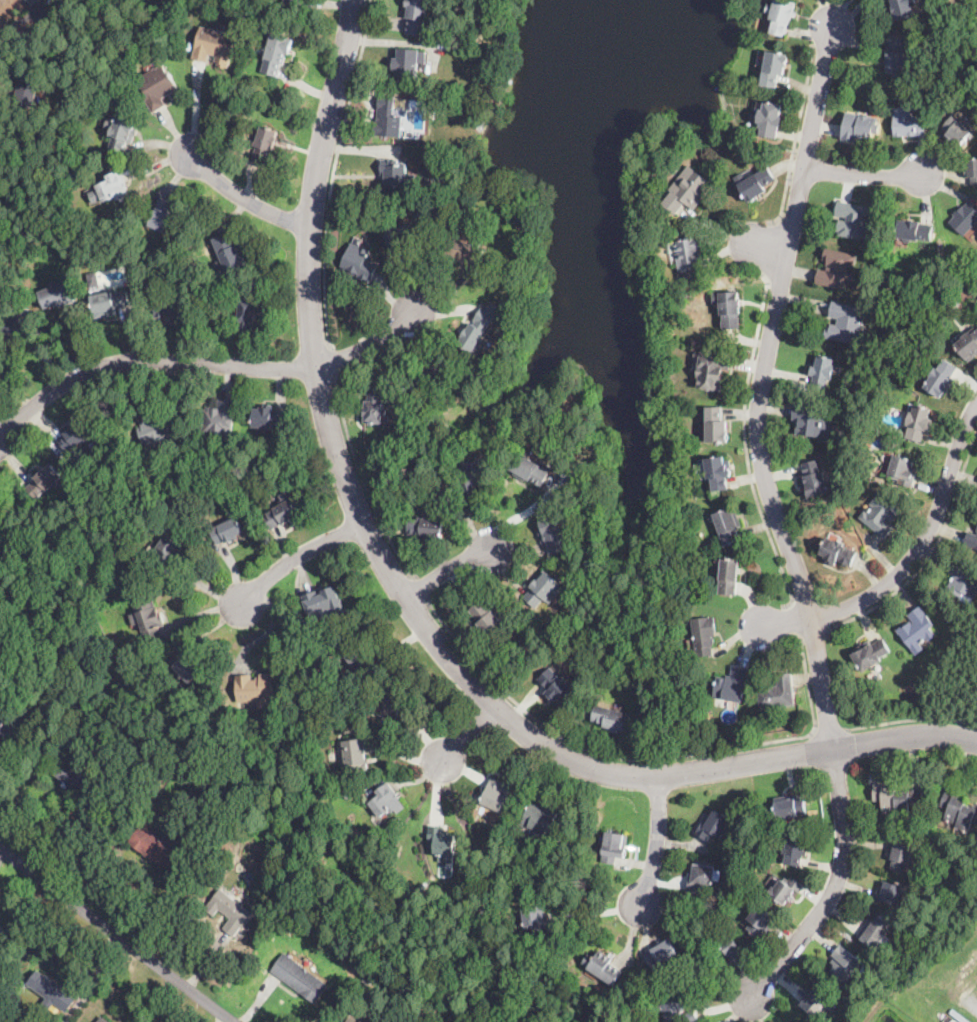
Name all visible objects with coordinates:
building: (34, 2)
building: (293, 4)
building: (903, 8)
building: (782, 14)
building: (417, 16)
building: (215, 46)
building: (277, 54)
building: (896, 55)
building: (410, 64)
building: (774, 68)
building: (158, 87)
building: (27, 89)
building: (390, 119)
building: (771, 119)
building: (907, 123)
building: (860, 127)
road: (796, 131)
building: (957, 131)
building: (122, 132)
building: (264, 145)
building: (6, 168)
road: (333, 170)
building: (972, 171)
road: (865, 173)
building: (398, 174)
building: (755, 184)
building: (115, 188)
building: (689, 190)
building: (94, 196)
road: (246, 198)
building: (165, 217)
building: (965, 218)
building: (853, 220)
building: (914, 231)
building: (403, 238)
road: (771, 245)
road: (767, 246)
building: (466, 251)
building: (229, 254)
building: (688, 257)
building: (360, 263)
building: (837, 269)
building: (94, 279)
building: (57, 295)
building: (171, 300)
building: (958, 300)
building: (110, 301)
building: (729, 308)
building: (247, 317)
building: (846, 323)
building: (16, 327)
building: (478, 329)
building: (968, 345)
road: (332, 358)
road: (202, 360)
building: (713, 370)
building: (823, 373)
building: (432, 374)
building: (942, 378)
road: (762, 389)
building: (375, 406)
building: (270, 418)
building: (220, 420)
building: (812, 421)
building: (919, 423)
building: (716, 425)
building: (153, 426)
building: (76, 435)
building: (566, 438)
road: (744, 438)
building: (530, 470)
building: (903, 471)
building: (719, 472)
building: (474, 475)
road: (363, 477)
building: (814, 479)
building: (44, 481)
building: (283, 514)
building: (881, 515)
building: (729, 525)
building: (426, 527)
building: (228, 531)
building: (553, 535)
road: (926, 535)
building: (971, 540)
road: (930, 551)
building: (838, 552)
building: (169, 553)
road: (297, 557)
road: (448, 568)
building: (729, 576)
building: (963, 580)
road: (421, 588)
building: (544, 590)
building: (325, 606)
road: (413, 608)
road: (792, 618)
building: (150, 619)
building: (486, 619)
road: (786, 620)
building: (917, 630)
road: (812, 632)
building: (705, 635)
building: (76, 644)
building: (528, 644)
building: (871, 654)
building: (362, 659)
building: (187, 668)
building: (732, 685)
building: (556, 686)
building: (256, 690)
building: (778, 693)
building: (392, 700)
building: (356, 702)
building: (704, 708)
road: (911, 717)
building: (614, 719)
road: (829, 726)
building: (9, 733)
road: (467, 734)
building: (356, 755)
road: (640, 757)
building: (105, 774)
building: (112, 779)
building: (78, 781)
building: (151, 789)
building: (348, 792)
building: (498, 796)
building: (895, 799)
building: (387, 801)
building: (790, 806)
building: (92, 811)
building: (958, 811)
building: (540, 817)
building: (714, 825)
road: (655, 840)
building: (443, 843)
building: (614, 848)
building: (155, 849)
building: (795, 849)
building: (557, 856)
building: (902, 856)
building: (753, 863)
building: (935, 875)
building: (703, 878)
building: (422, 884)
road: (834, 886)
building: (786, 890)
building: (890, 893)
building: (935, 899)
building: (230, 911)
building: (536, 920)
building: (761, 921)
building: (875, 931)
road: (116, 934)
building: (732, 948)
building: (660, 954)
building: (845, 964)
building: (603, 967)
building: (300, 978)
building: (52, 990)
building: (819, 1001)
building: (677, 1011)
building: (361, 1017)
building: (103, 1020)
building: (797, 1021)

